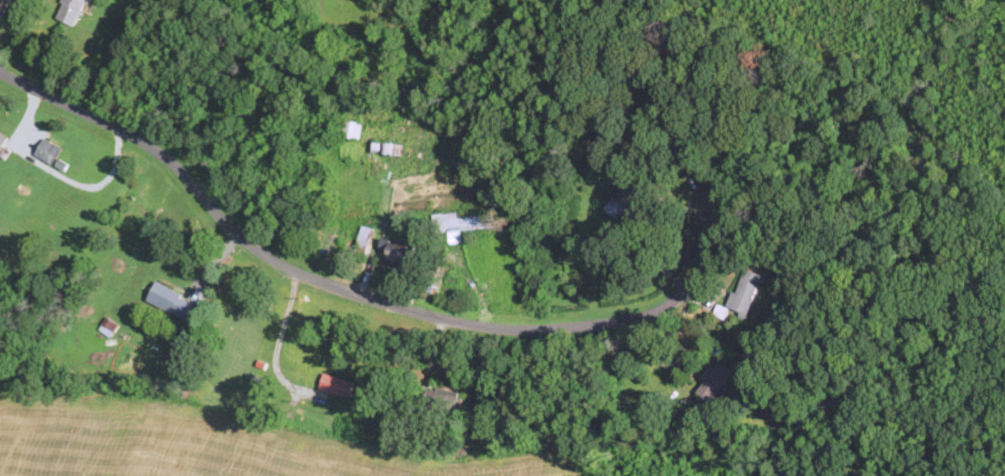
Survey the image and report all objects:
road: (2, 5)
building: (71, 11)
building: (349, 130)
building: (2, 141)
building: (390, 141)
building: (54, 155)
road: (57, 176)
building: (623, 199)
building: (363, 241)
road: (653, 251)
building: (399, 253)
road: (364, 293)
building: (170, 301)
building: (108, 327)
road: (276, 339)
building: (713, 380)
building: (336, 386)

